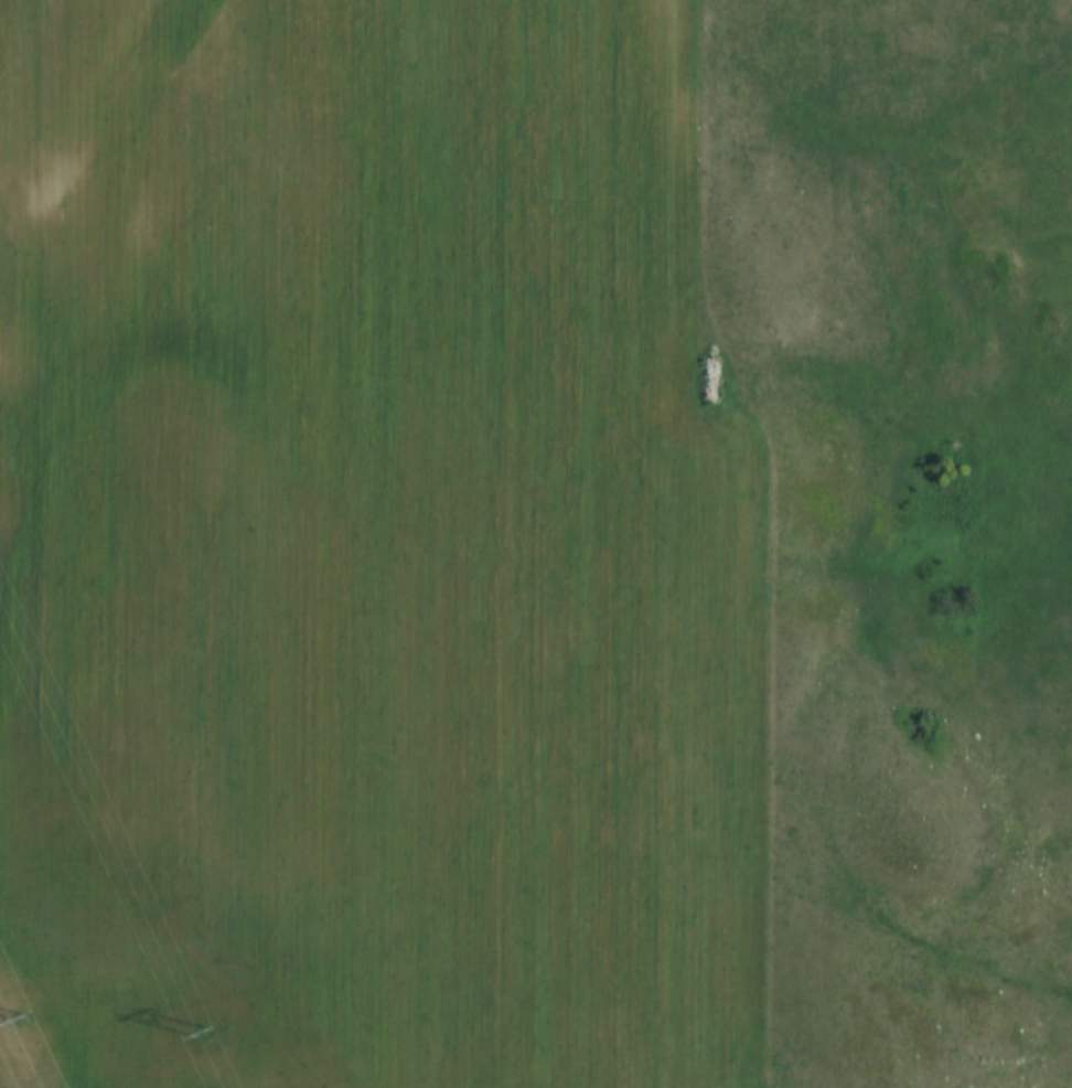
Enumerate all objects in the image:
road: (712, 241)
power tower: (186, 1034)

